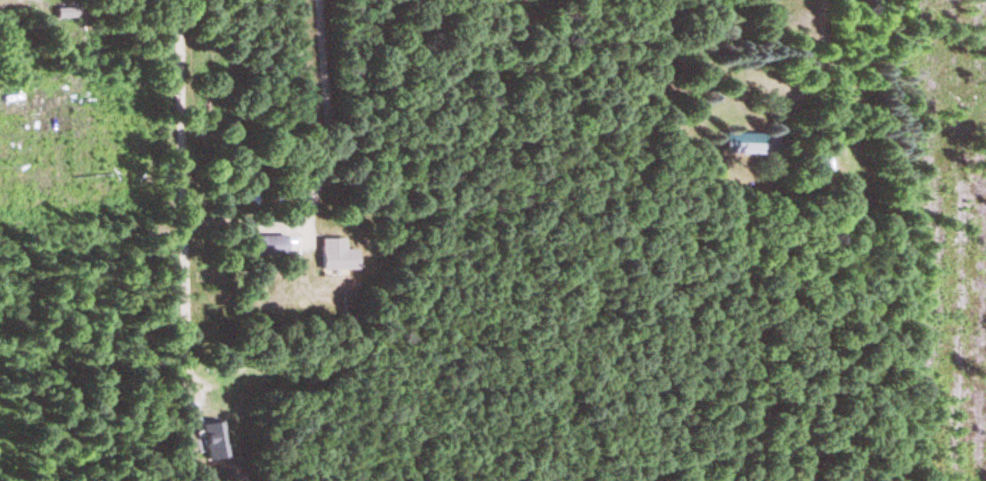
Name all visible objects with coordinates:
building: (269, 245)
building: (335, 256)

